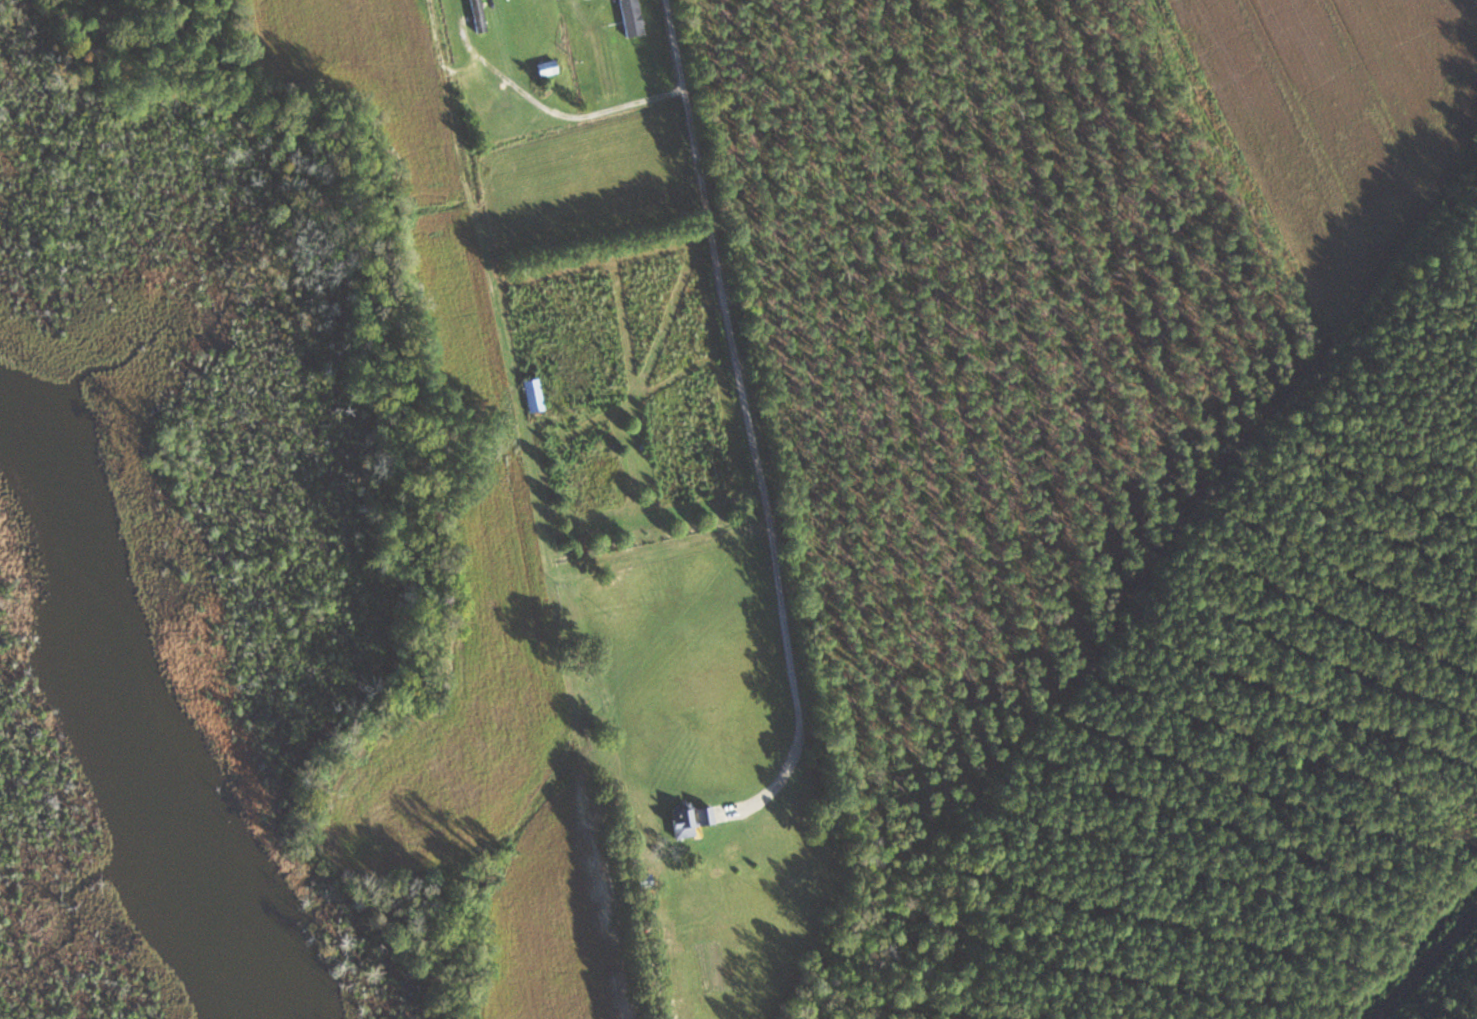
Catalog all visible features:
building: (476, 15)
building: (545, 68)
road: (488, 284)
building: (532, 395)
building: (594, 481)
building: (705, 814)
building: (680, 821)
road: (1426, 964)

